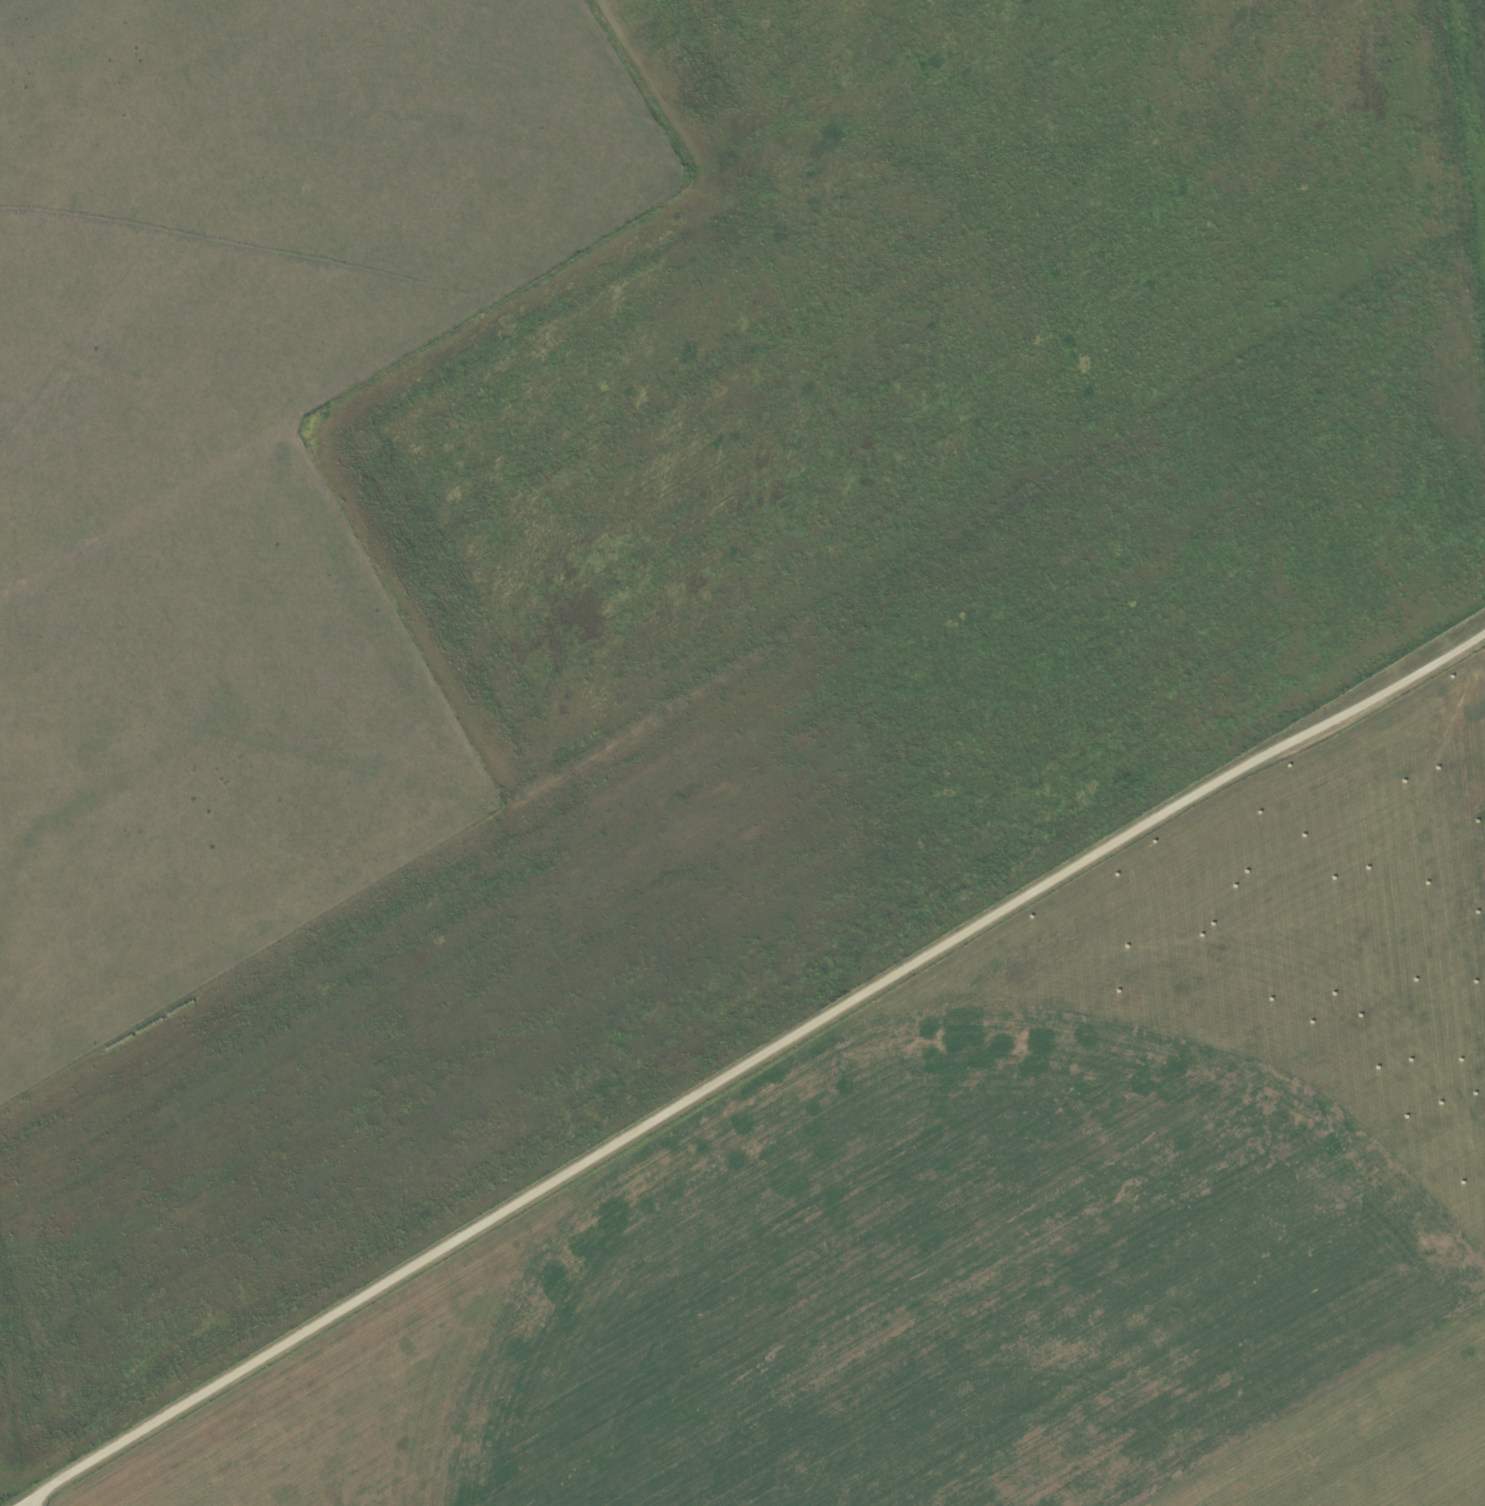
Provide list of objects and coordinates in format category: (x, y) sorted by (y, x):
road: (748, 1064)

